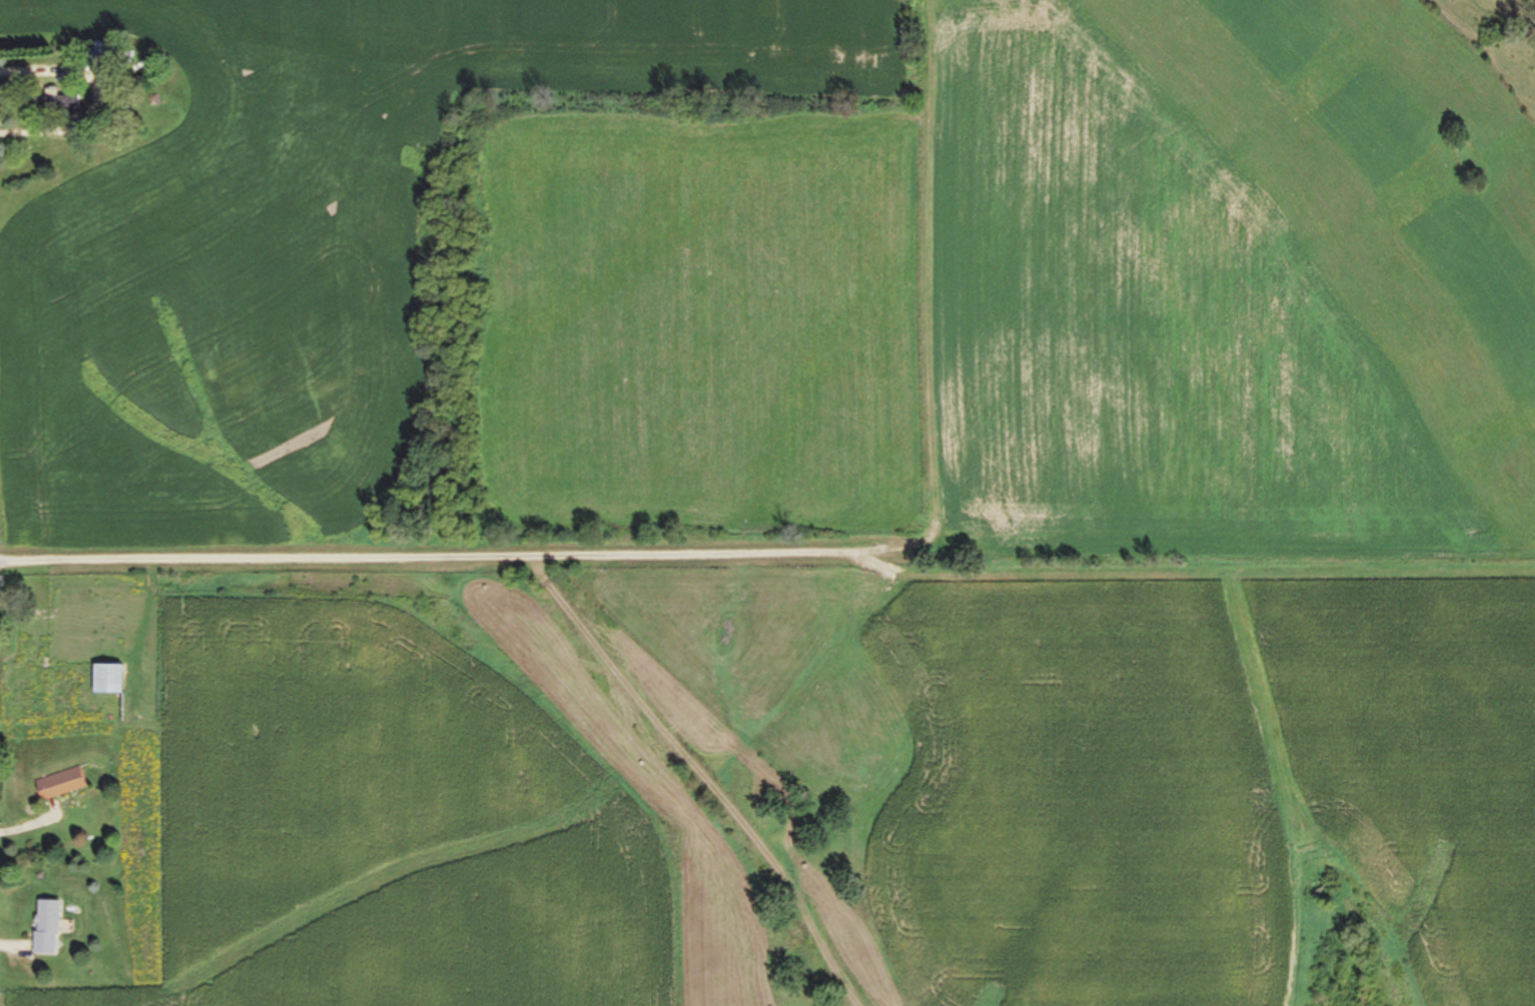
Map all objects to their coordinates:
building: (101, 56)
building: (59, 104)
road: (450, 563)
building: (108, 679)
road: (703, 775)
building: (61, 784)
building: (46, 928)

